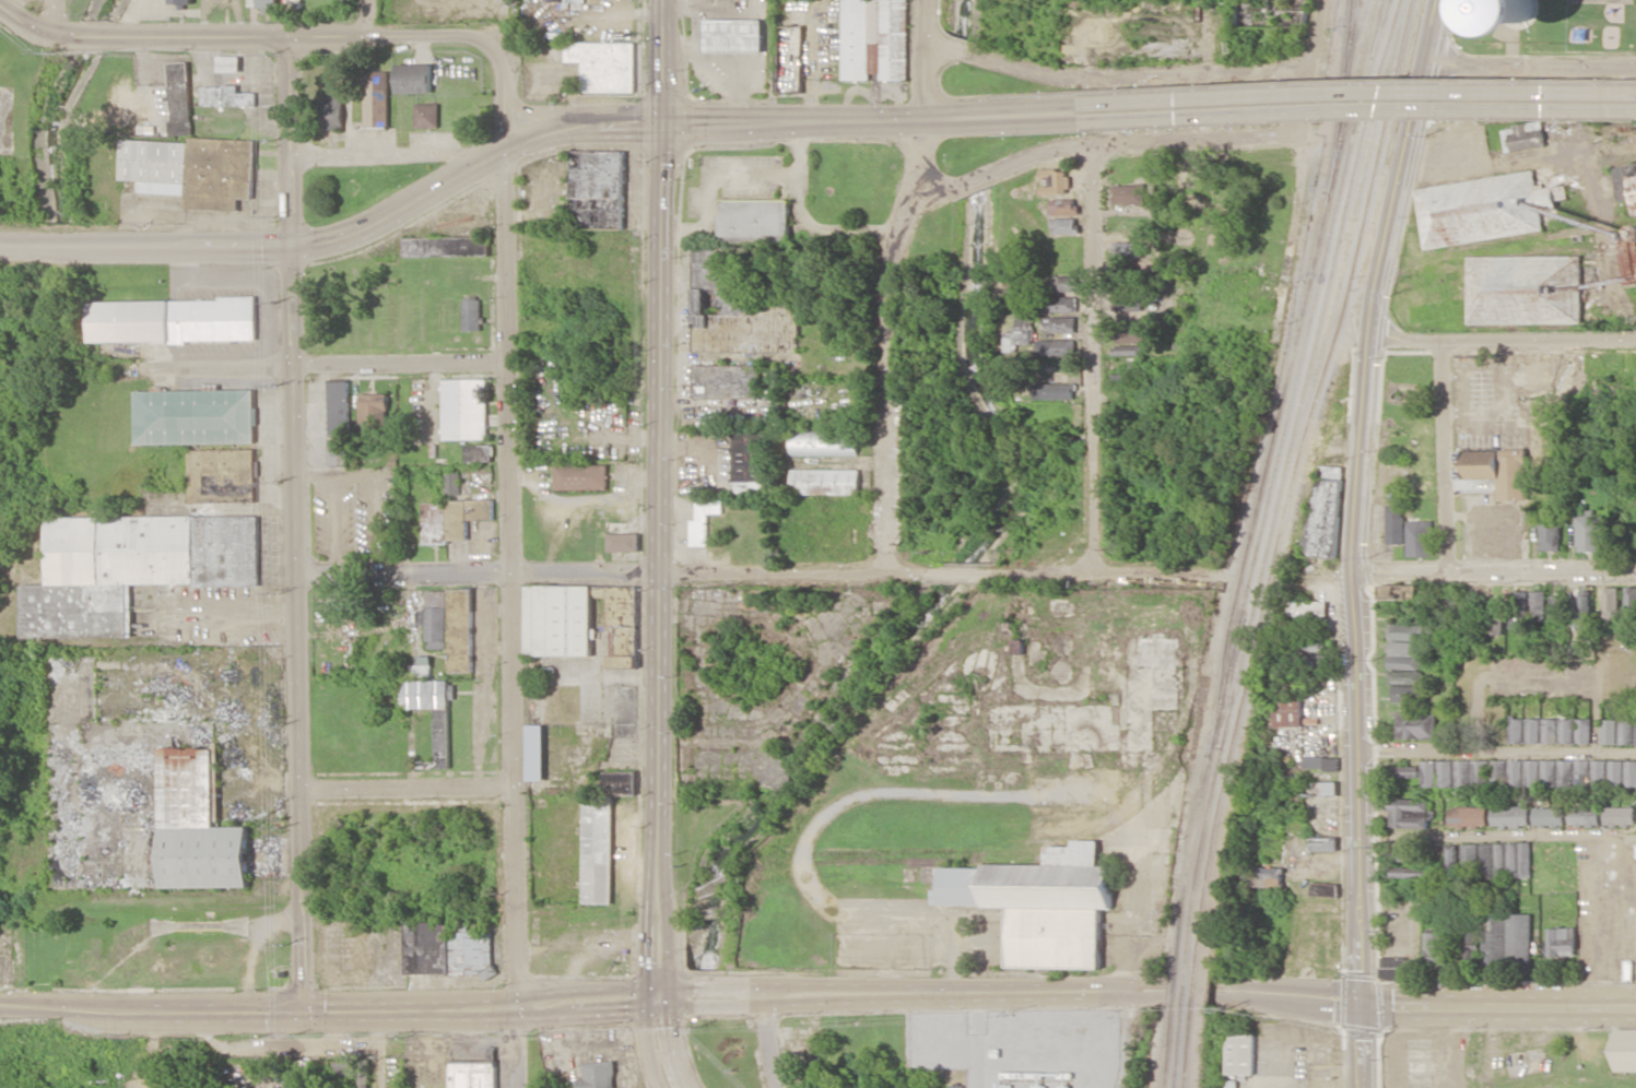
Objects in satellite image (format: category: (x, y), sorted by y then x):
building: (181, 1)
building: (263, 3)
railway: (1350, 12)
building: (1516, 15)
road: (47, 16)
road: (364, 16)
road: (440, 34)
road: (138, 35)
building: (733, 35)
building: (875, 39)
railway: (1349, 50)
building: (789, 59)
building: (604, 64)
railway: (1366, 64)
road: (1532, 64)
road: (1113, 75)
building: (414, 78)
building: (227, 96)
railway: (1341, 96)
building: (180, 97)
building: (377, 99)
road: (1357, 102)
building: (331, 111)
road: (545, 113)
building: (427, 115)
traffic signals: (664, 123)
building: (1525, 135)
road: (527, 138)
road: (1199, 138)
road: (382, 154)
road: (1000, 166)
building: (193, 169)
building: (1056, 181)
building: (1624, 181)
building: (598, 189)
road: (1299, 190)
building: (1129, 194)
building: (1064, 206)
building: (1484, 209)
building: (755, 220)
building: (1066, 226)
building: (446, 246)
building: (1127, 249)
building: (1066, 283)
road: (885, 284)
building: (1525, 289)
building: (1129, 301)
building: (1057, 304)
building: (738, 308)
building: (472, 315)
building: (174, 320)
building: (1060, 323)
building: (1131, 332)
building: (1017, 334)
road: (1503, 343)
building: (1059, 346)
building: (1130, 350)
road: (1092, 357)
road: (332, 365)
railway: (1288, 378)
building: (727, 381)
building: (1055, 391)
building: (339, 407)
building: (464, 409)
building: (375, 415)
building: (204, 434)
building: (825, 442)
building: (340, 451)
building: (480, 452)
road: (1443, 457)
building: (751, 458)
road: (507, 466)
building: (1499, 471)
building: (581, 476)
railway: (1285, 476)
railway: (1295, 476)
railway: (1275, 477)
building: (826, 481)
building: (454, 483)
building: (1422, 490)
road: (661, 496)
road: (1357, 497)
building: (1326, 515)
building: (705, 517)
building: (454, 519)
road: (298, 522)
building: (1394, 524)
building: (1550, 529)
building: (1588, 532)
building: (1419, 537)
building: (624, 542)
building: (132, 567)
road: (1494, 568)
road: (609, 573)
road: (957, 573)
road: (1108, 575)
building: (1400, 592)
building: (1631, 601)
building: (1611, 602)
building: (620, 604)
building: (1538, 606)
building: (1518, 608)
building: (1557, 608)
building: (1307, 611)
building: (1495, 616)
building: (1585, 616)
building: (436, 619)
building: (558, 619)
building: (461, 630)
building: (1405, 631)
building: (1313, 641)
building: (1020, 646)
building: (1576, 648)
building: (1404, 654)
building: (1310, 664)
road: (1597, 665)
building: (423, 667)
building: (1404, 676)
railway: (1234, 684)
building: (1408, 693)
building: (1291, 708)
building: (1416, 725)
building: (1515, 730)
building: (1532, 730)
building: (1549, 730)
building: (1565, 730)
building: (1582, 730)
building: (1608, 731)
building: (1625, 731)
building: (1635, 733)
building: (443, 737)
road: (1497, 748)
building: (537, 752)
building: (1321, 761)
building: (1403, 770)
building: (1471, 772)
building: (1497, 772)
building: (1514, 772)
building: (1531, 772)
building: (1547, 772)
building: (1565, 772)
building: (1581, 772)
building: (1598, 772)
building: (1615, 772)
building: (1436, 773)
building: (1629, 773)
road: (403, 789)
building: (1410, 814)
building: (1582, 815)
building: (1619, 815)
building: (1467, 816)
building: (1508, 816)
building: (1546, 817)
building: (198, 826)
building: (602, 836)
road: (1497, 838)
building: (1325, 843)
building: (1469, 855)
building: (1450, 858)
building: (1492, 860)
building: (1518, 860)
building: (1268, 876)
building: (1325, 889)
road: (508, 896)
building: (1044, 903)
building: (1494, 937)
railway: (1184, 939)
building: (1519, 939)
building: (1562, 942)
building: (1435, 948)
building: (447, 950)
building: (1470, 954)
building: (1397, 969)
railway: (1177, 983)
railway: (1182, 983)
railway: (1188, 983)
railway: (1197, 983)
road: (895, 991)
traffic signals: (658, 994)
road: (1247, 995)
road: (585, 1000)
traffic signals: (1362, 1003)
road: (1498, 1003)
road: (405, 1007)
road: (149, 1010)
railway: (1181, 1032)
road: (1131, 1038)
road: (769, 1040)
road: (659, 1042)
power substation: (1022, 1045)
road: (1362, 1045)
road: (511, 1046)
railway: (1172, 1046)
railway: (1181, 1048)
railway: (1190, 1048)
building: (1625, 1050)
building: (1241, 1054)
building: (332, 1068)
building: (364, 1074)
building: (473, 1075)
building: (598, 1075)
building: (956, 1086)

